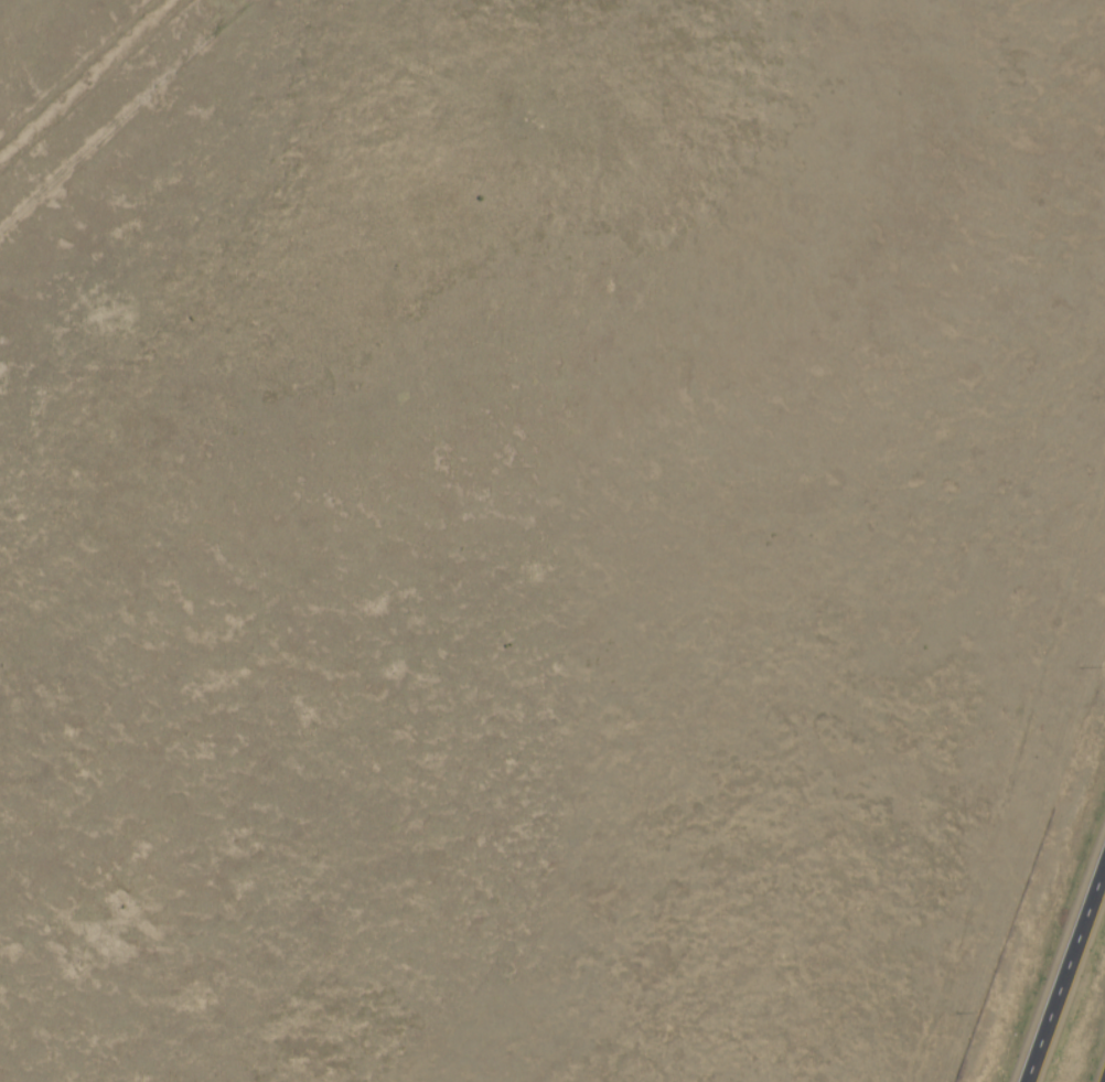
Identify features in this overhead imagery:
road: (74, 66)
road: (1064, 974)

